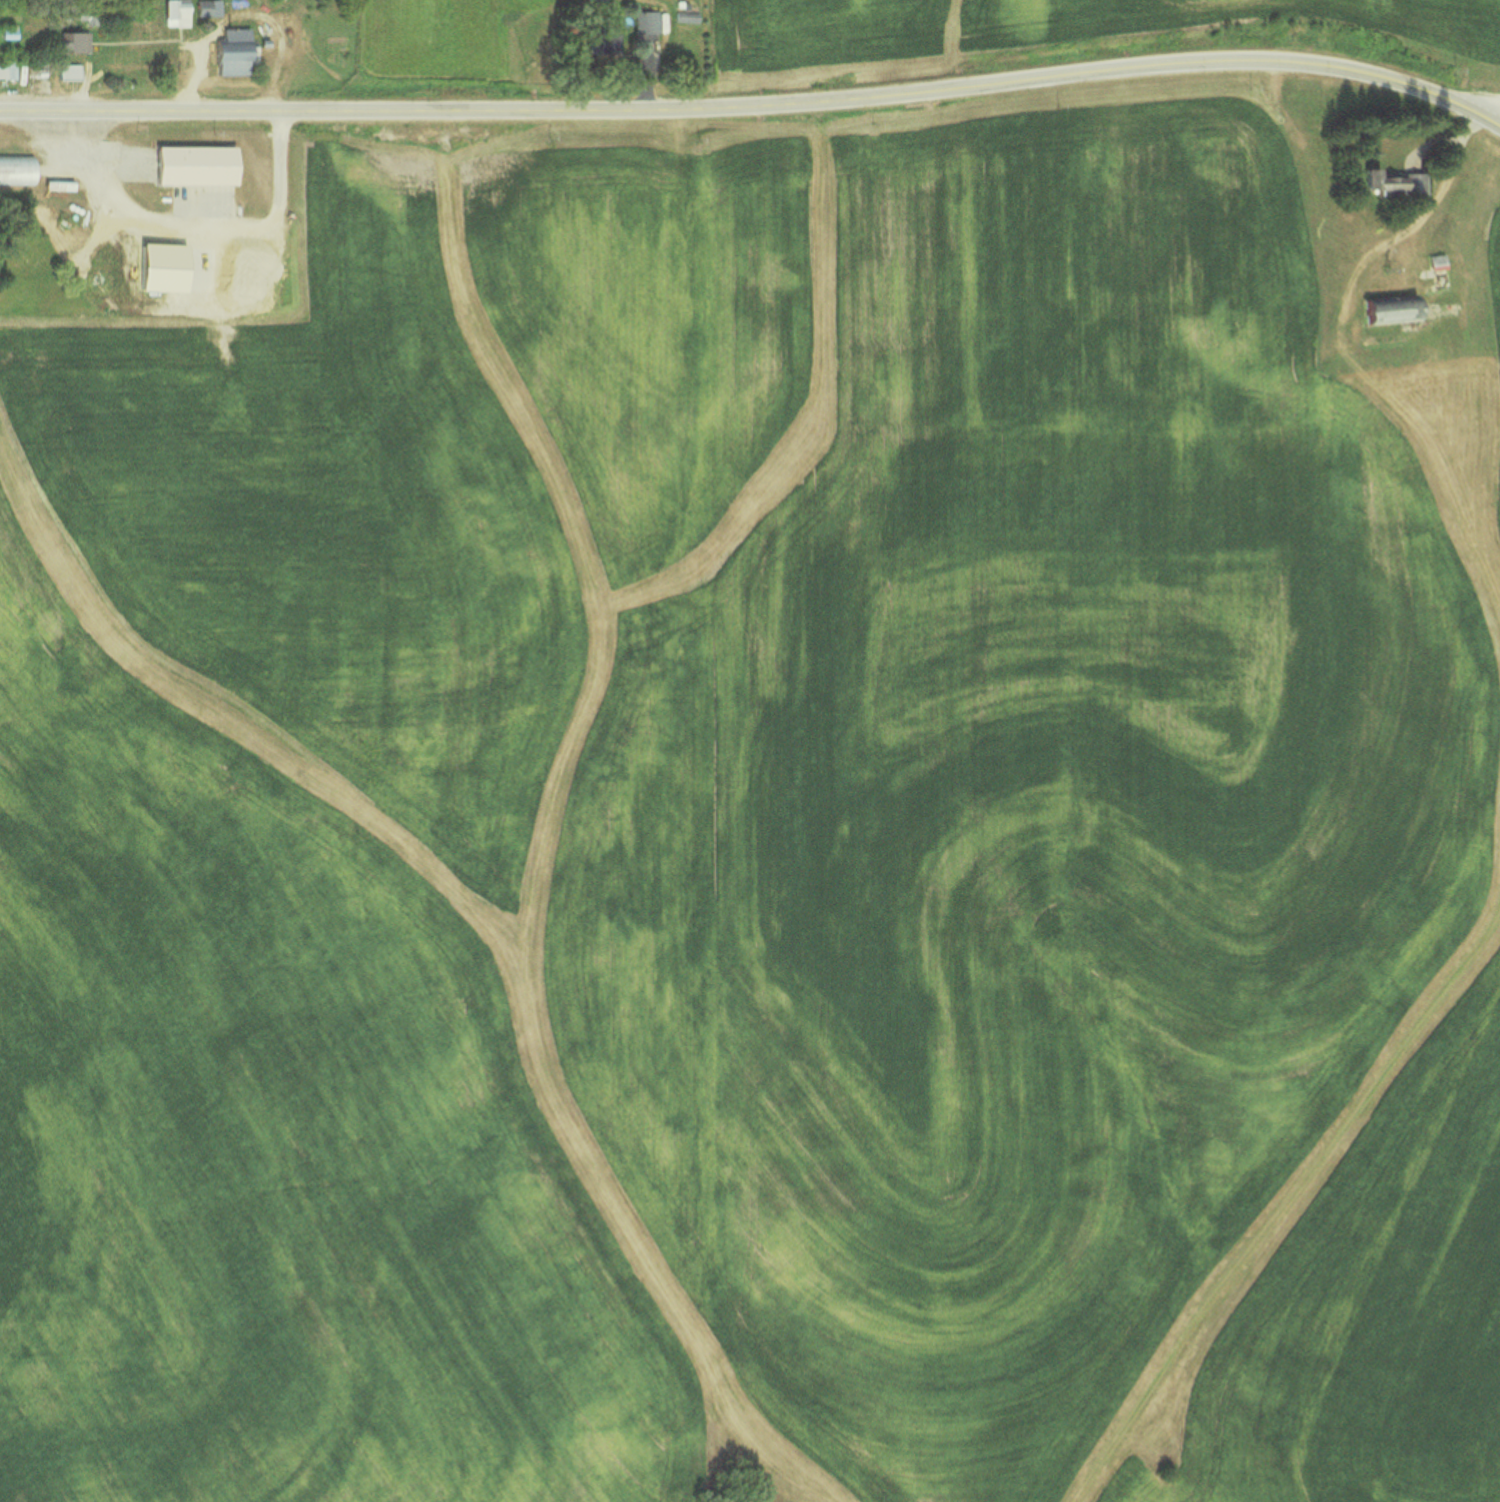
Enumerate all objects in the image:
building: (207, 7)
building: (174, 12)
building: (86, 14)
building: (685, 17)
building: (645, 21)
building: (73, 41)
building: (606, 43)
building: (231, 52)
building: (11, 58)
building: (68, 71)
road: (756, 104)
building: (194, 164)
building: (16, 169)
building: (1391, 182)
building: (1387, 308)

